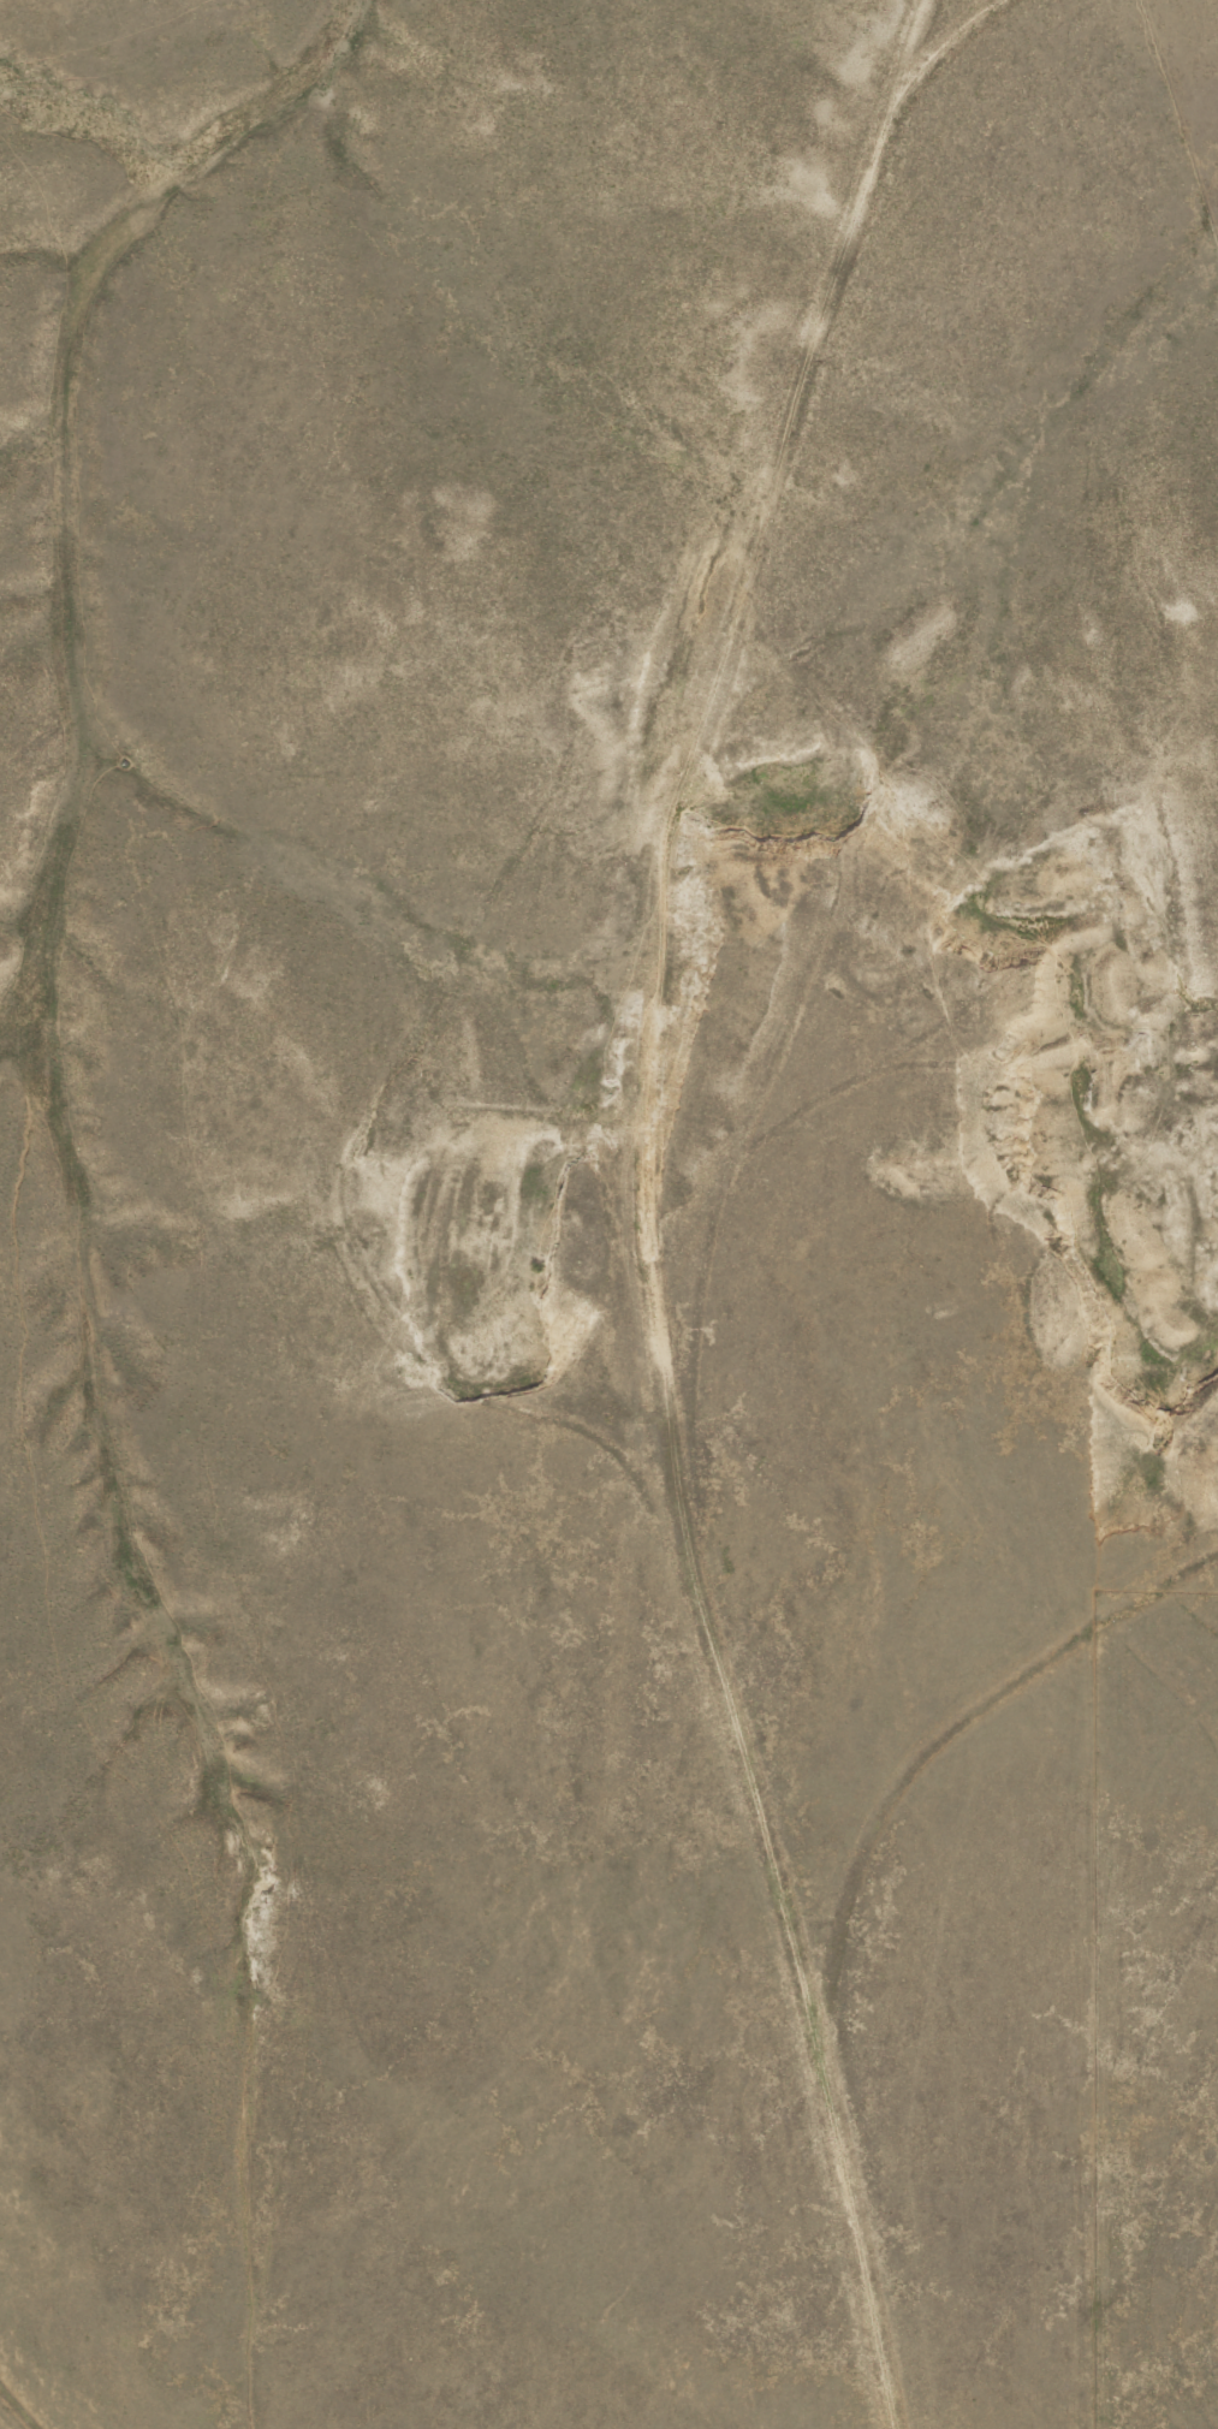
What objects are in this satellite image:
road: (614, 1175)
road: (899, 1740)

